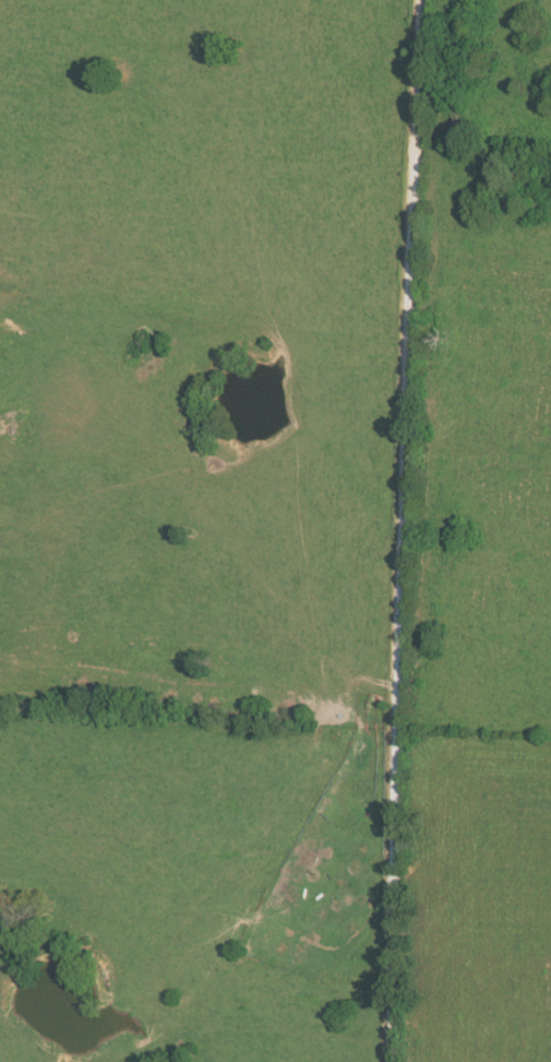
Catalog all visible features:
road: (402, 530)

